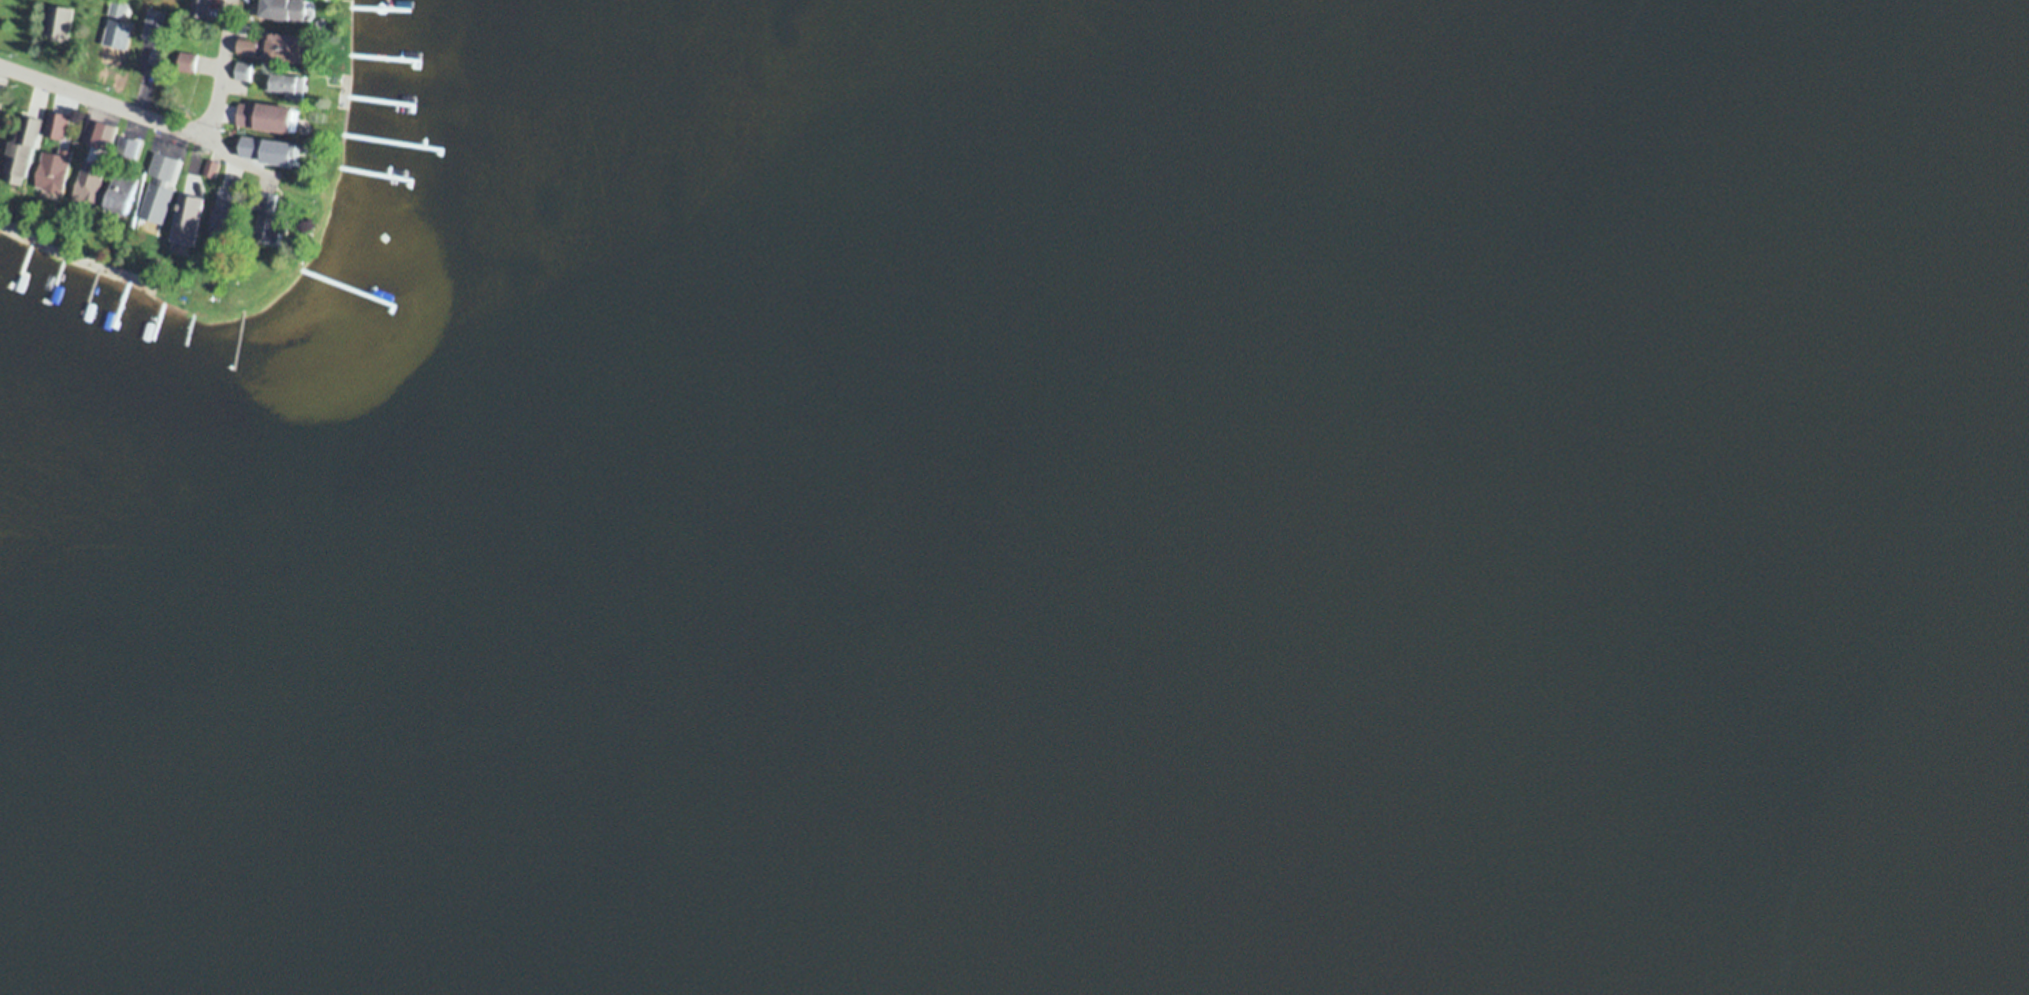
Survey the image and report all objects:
building: (197, 5)
building: (290, 10)
building: (61, 21)
building: (251, 46)
building: (288, 48)
building: (189, 60)
road: (219, 69)
building: (244, 71)
building: (286, 85)
building: (0, 98)
road: (99, 98)
building: (59, 117)
building: (270, 118)
building: (27, 135)
building: (104, 135)
building: (246, 144)
building: (129, 147)
building: (274, 149)
building: (168, 158)
building: (54, 170)
building: (89, 182)
building: (123, 193)
building: (197, 198)
building: (157, 202)
building: (271, 218)

